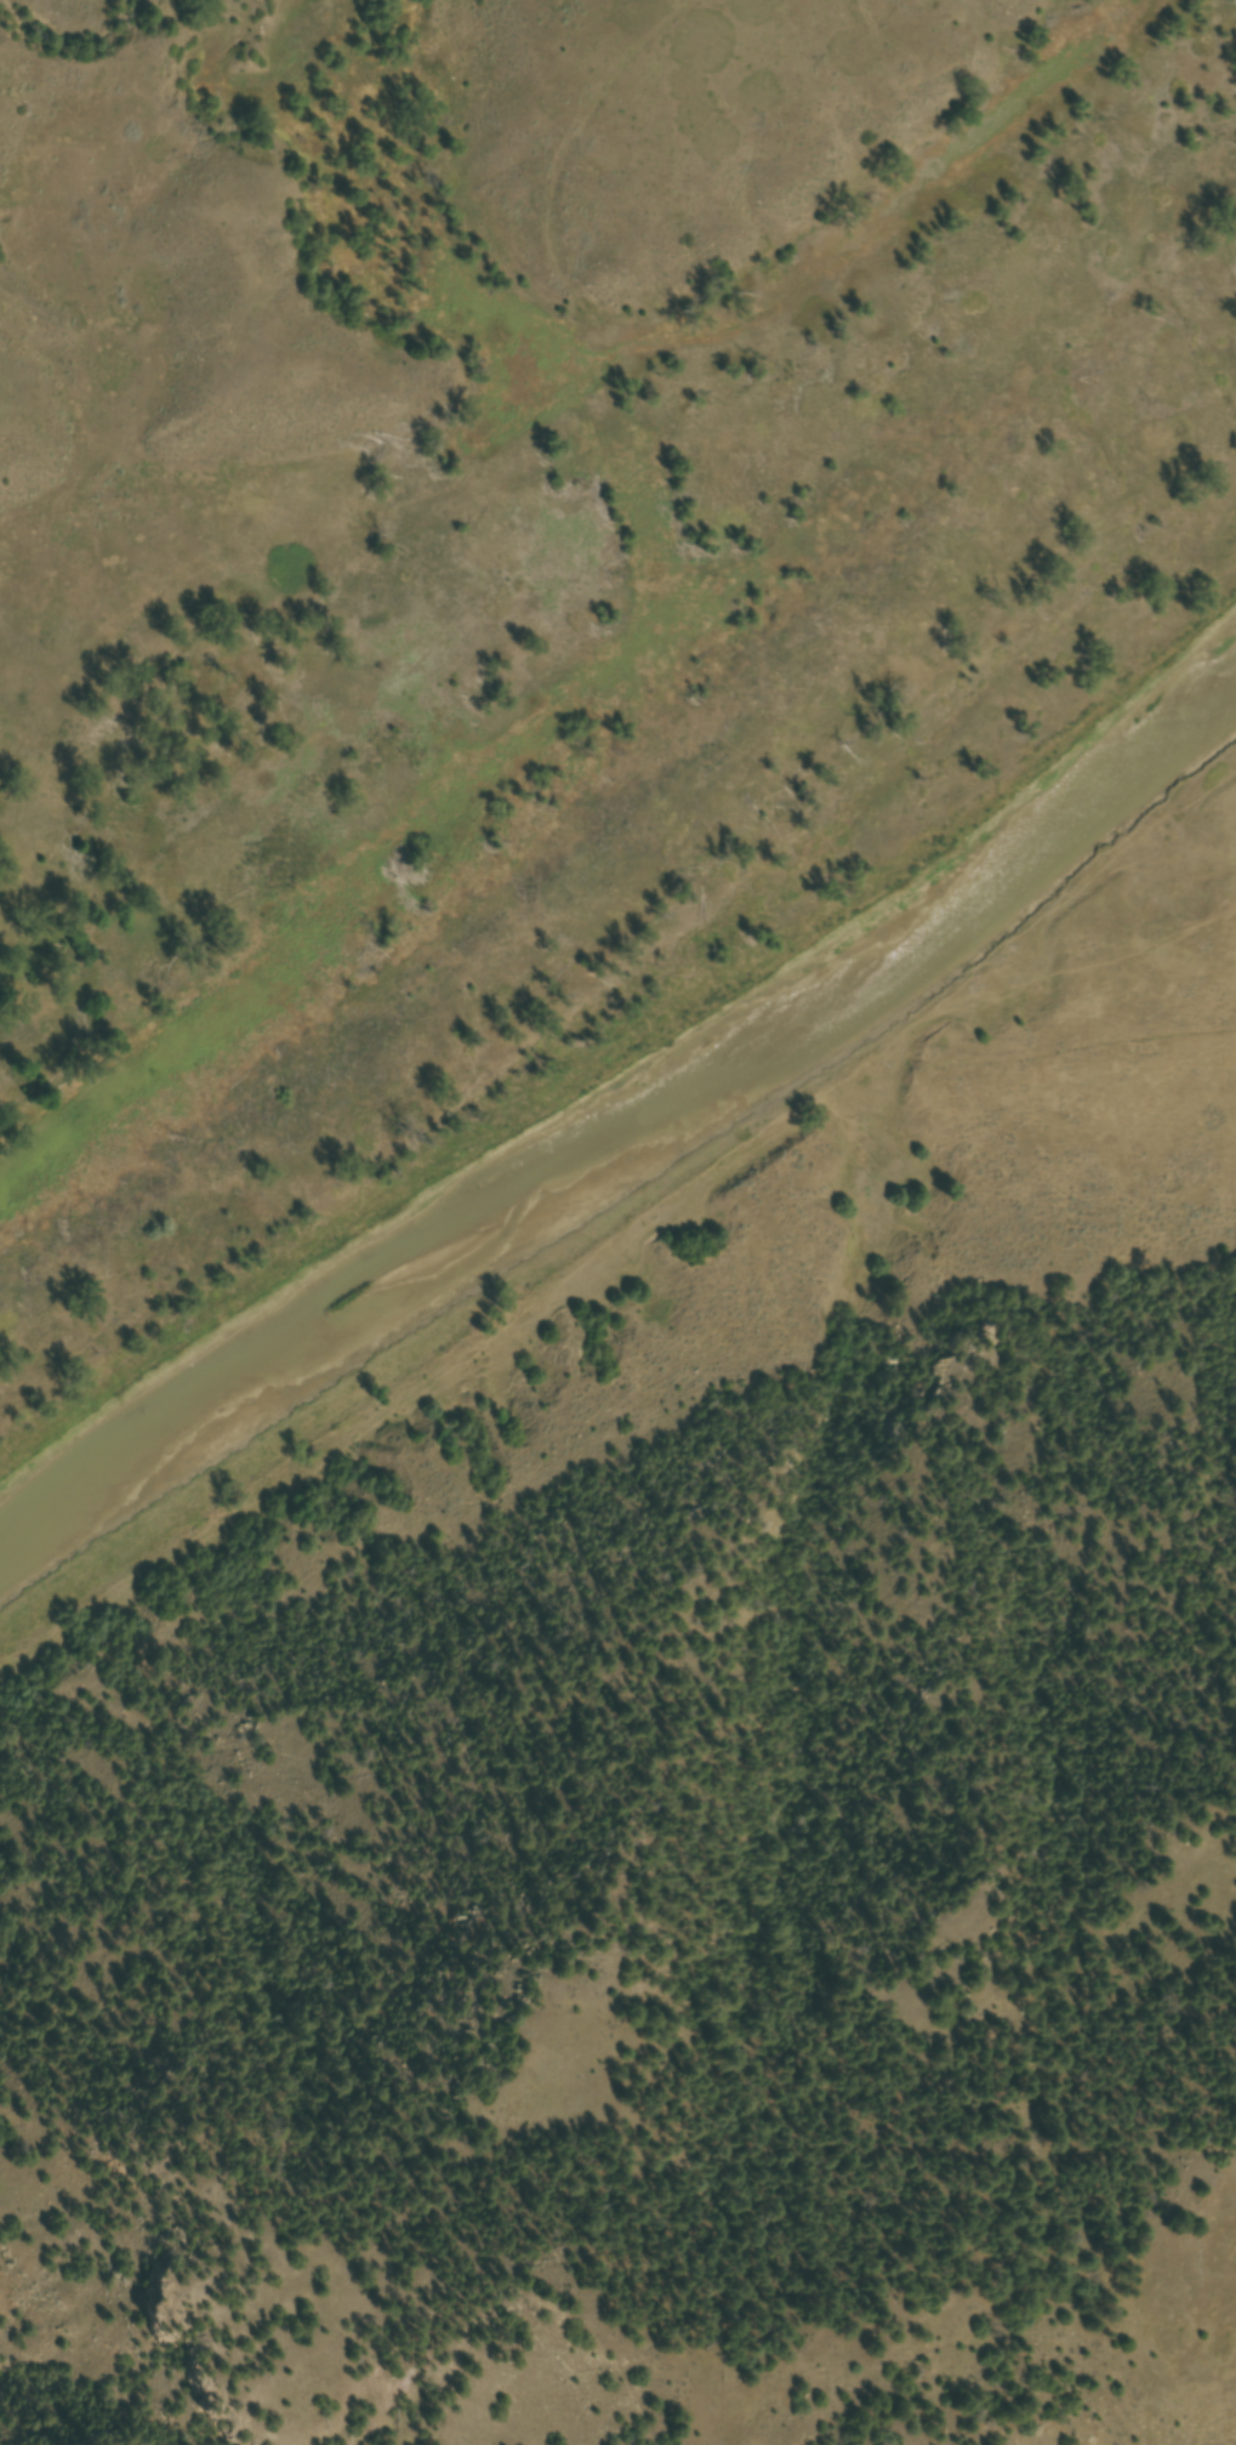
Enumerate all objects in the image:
park: (542, 595)
river: (626, 1142)

